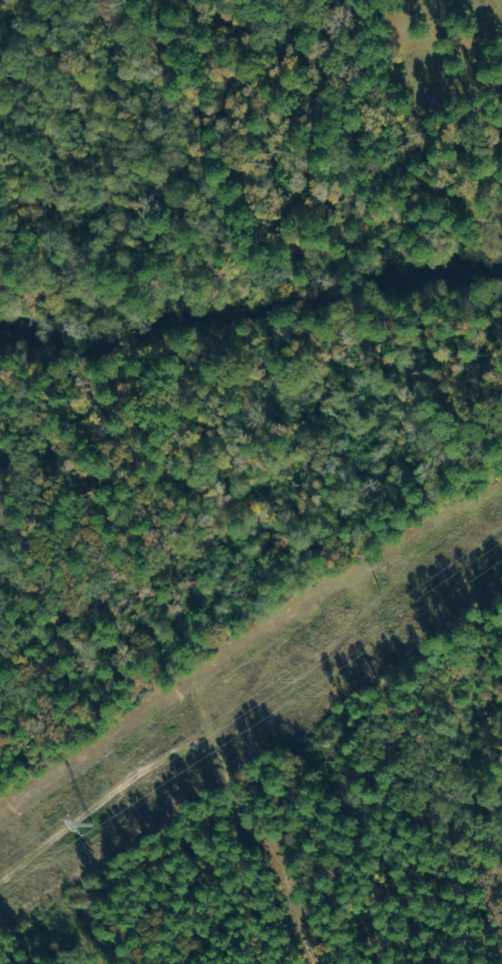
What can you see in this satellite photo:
road: (121, 163)
power tower: (90, 824)

